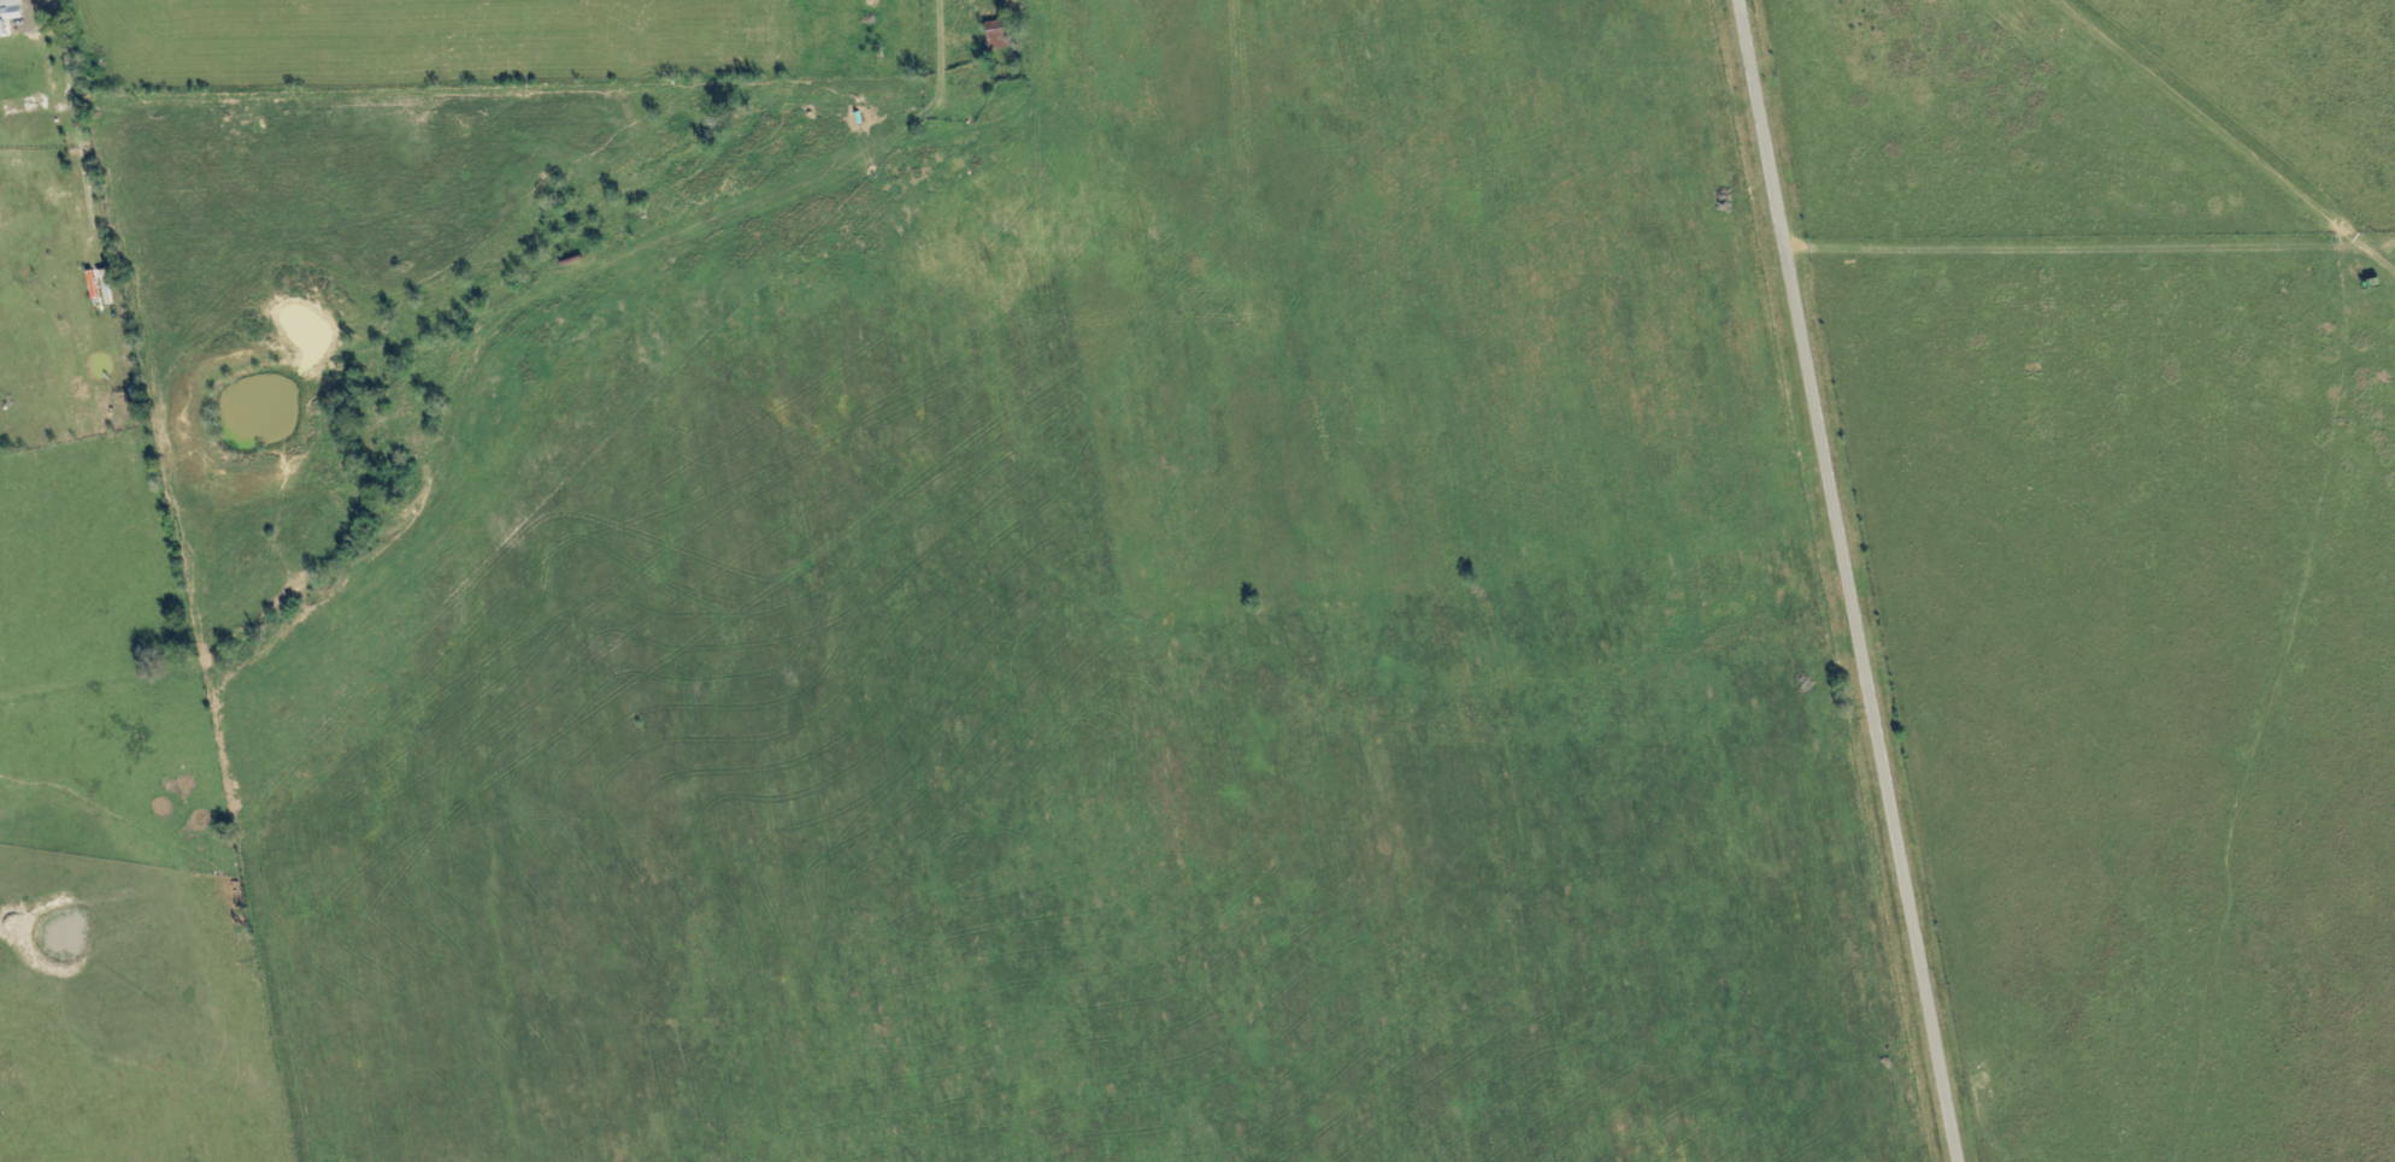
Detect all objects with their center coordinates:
building: (11, 16)
road: (1844, 580)

